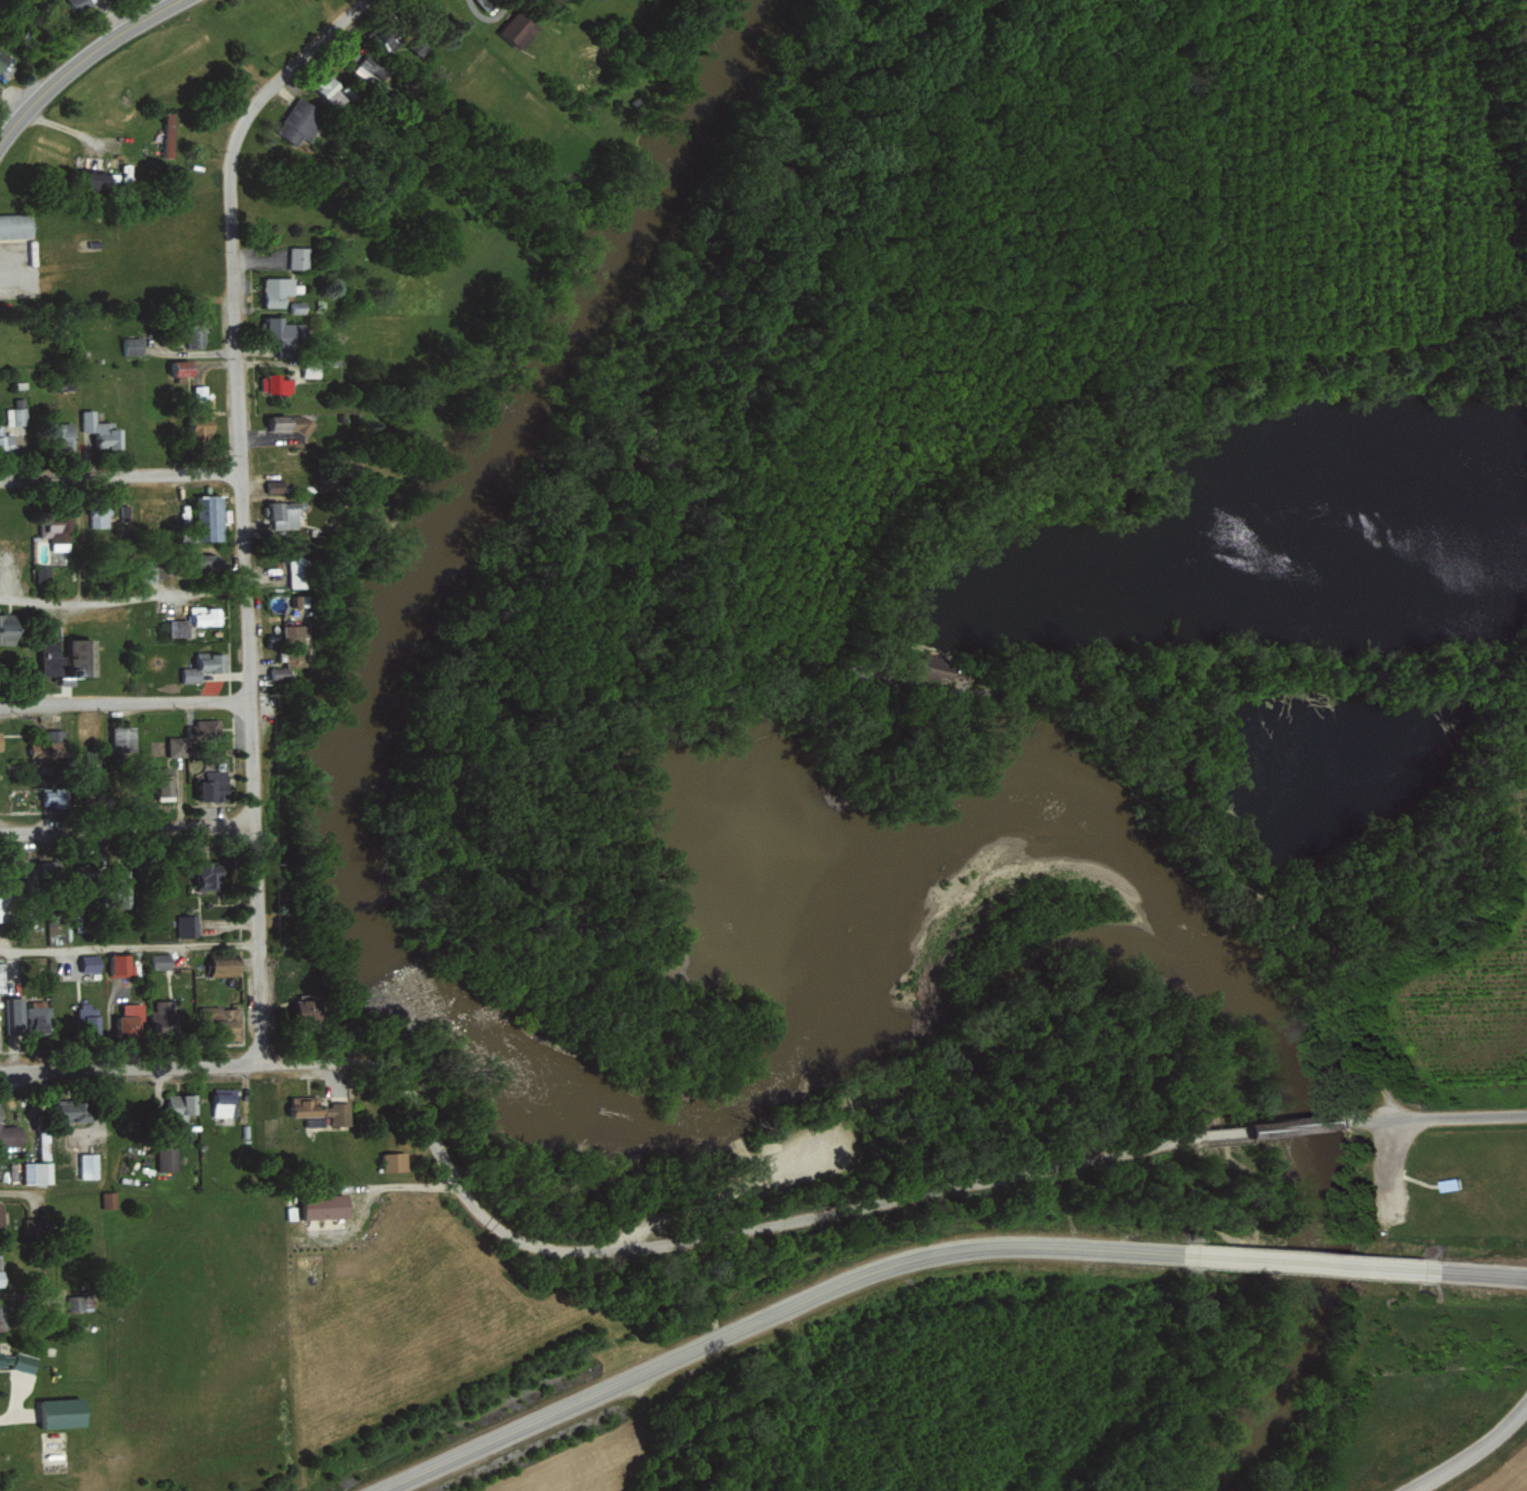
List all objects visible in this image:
building: (80, 4)
building: (517, 28)
building: (389, 35)
river: (1521, 35)
building: (3, 58)
road: (83, 61)
building: (372, 67)
building: (1, 91)
building: (334, 91)
building: (300, 120)
building: (170, 134)
building: (102, 180)
road: (230, 208)
building: (17, 224)
building: (298, 257)
building: (277, 290)
building: (297, 306)
building: (284, 334)
building: (197, 335)
building: (133, 345)
building: (183, 367)
building: (276, 383)
building: (201, 392)
building: (13, 423)
building: (288, 423)
building: (203, 427)
building: (103, 431)
road: (119, 477)
building: (276, 486)
building: (280, 513)
building: (104, 515)
building: (211, 517)
building: (57, 532)
building: (208, 561)
building: (295, 567)
building: (43, 572)
road: (122, 597)
building: (295, 600)
building: (205, 615)
building: (178, 627)
building: (9, 630)
building: (290, 634)
building: (83, 656)
building: (53, 658)
building: (291, 658)
building: (212, 661)
building: (278, 673)
building: (191, 674)
road: (124, 703)
building: (202, 729)
building: (124, 739)
building: (1, 740)
building: (52, 745)
building: (176, 746)
road: (252, 769)
building: (165, 785)
building: (211, 785)
building: (55, 797)
road: (128, 827)
building: (43, 868)
building: (210, 877)
building: (4, 907)
building: (186, 926)
road: (128, 947)
building: (160, 960)
building: (90, 963)
building: (121, 964)
building: (226, 967)
building: (1, 977)
building: (309, 1008)
building: (14, 1015)
building: (39, 1018)
building: (87, 1018)
building: (164, 1018)
building: (129, 1021)
building: (227, 1024)
road: (128, 1067)
river: (636, 1082)
building: (222, 1104)
building: (182, 1106)
building: (322, 1110)
building: (73, 1111)
road: (1444, 1121)
road: (1304, 1128)
building: (9, 1134)
building: (42, 1137)
building: (166, 1159)
building: (394, 1161)
building: (88, 1165)
building: (37, 1173)
building: (1448, 1182)
building: (108, 1200)
building: (326, 1207)
building: (0, 1221)
building: (37, 1226)
road: (709, 1239)
road: (1311, 1264)
building: (0, 1265)
road: (1486, 1274)
building: (78, 1303)
building: (2, 1316)
road: (767, 1317)
building: (18, 1361)
building: (62, 1413)
road: (1468, 1455)

